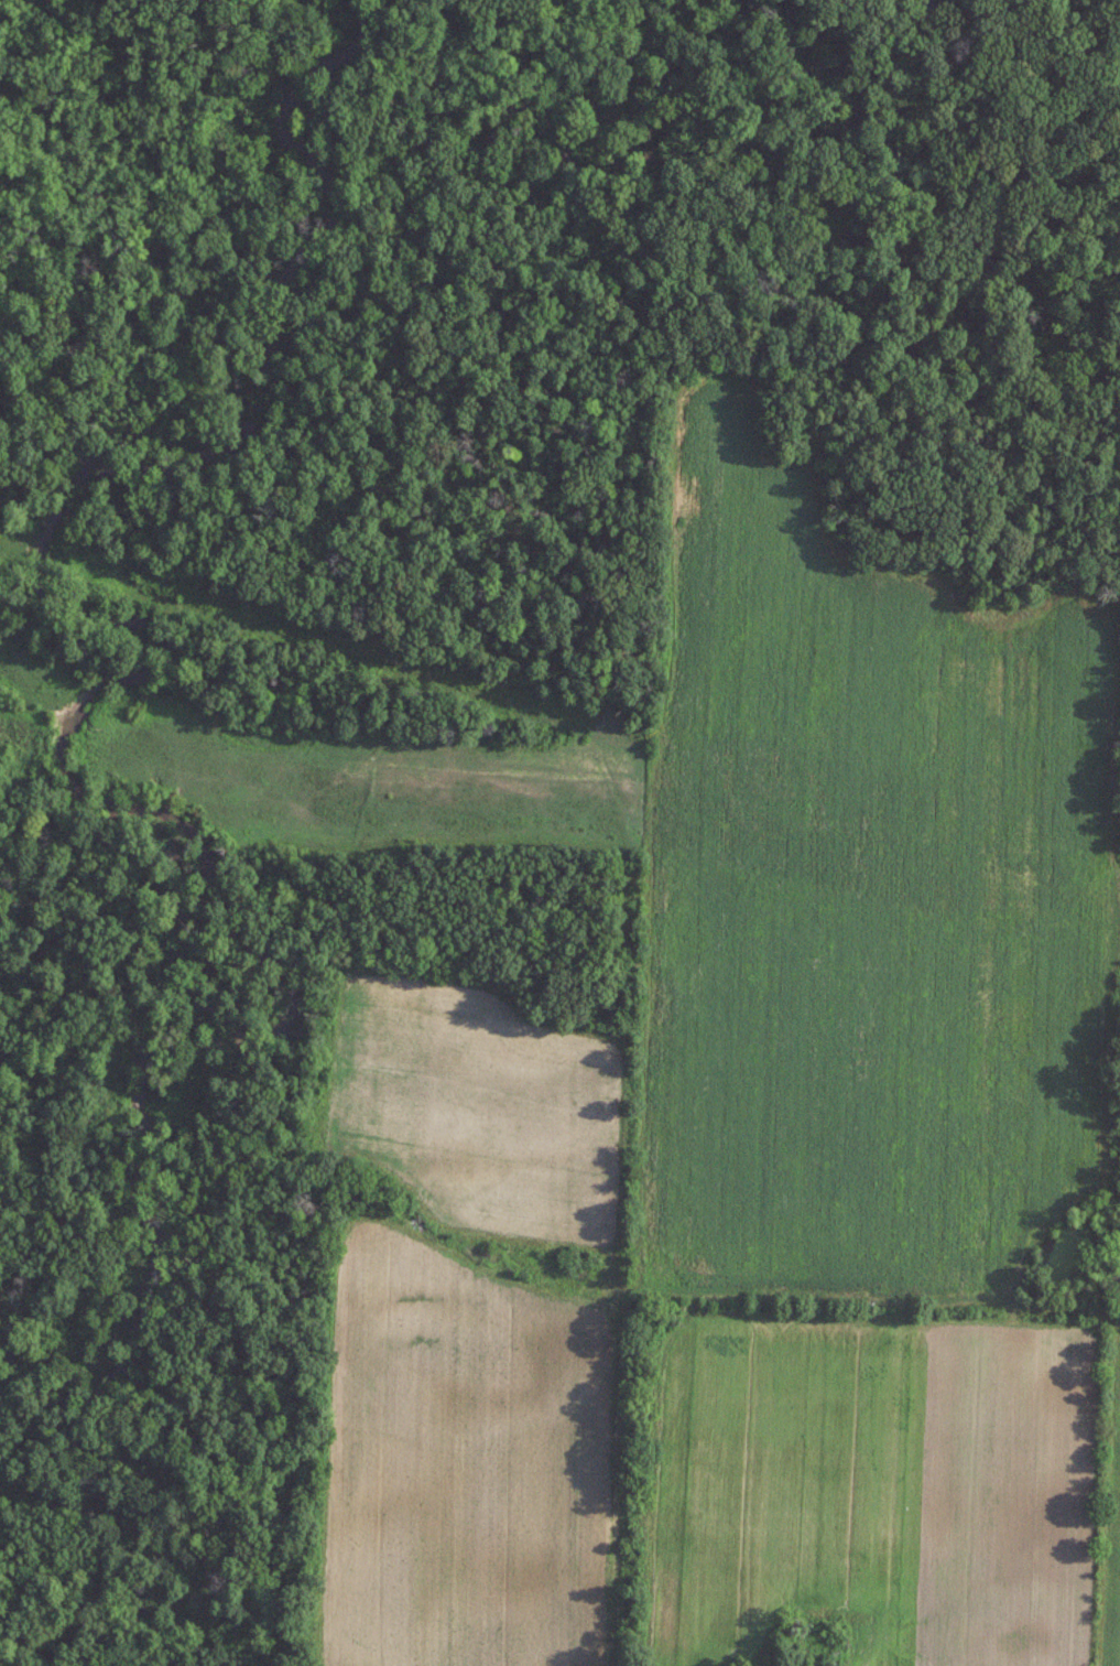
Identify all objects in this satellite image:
road: (620, 1485)

